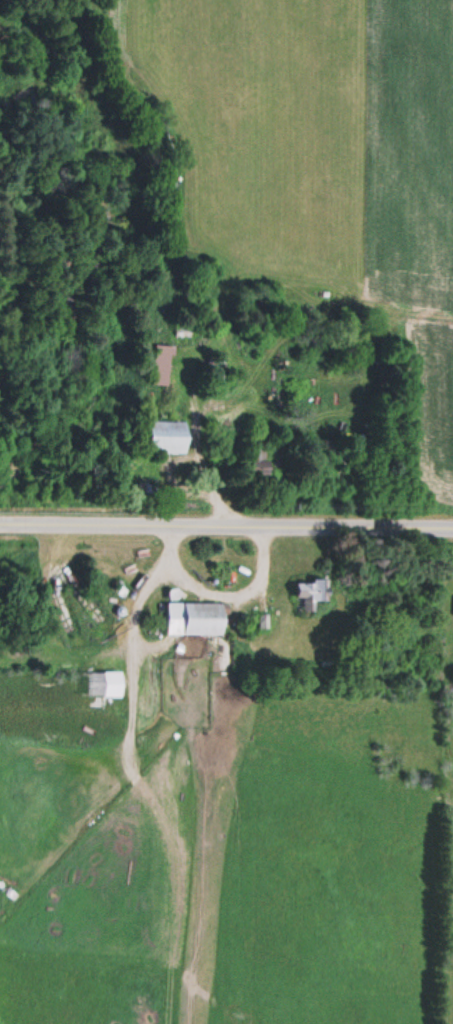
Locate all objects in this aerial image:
building: (161, 365)
building: (216, 374)
building: (167, 436)
building: (256, 461)
road: (226, 524)
building: (312, 587)
building: (194, 617)
building: (111, 682)

